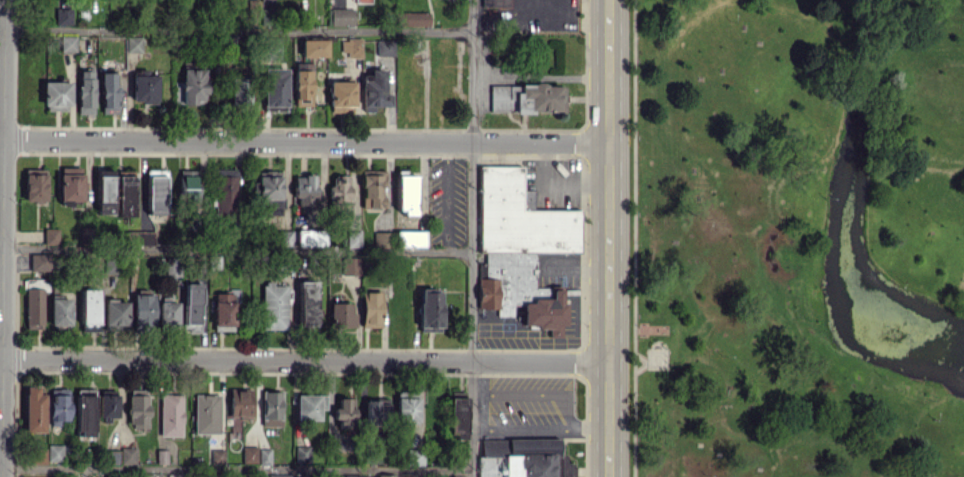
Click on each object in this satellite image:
building: (494, 3)
building: (62, 16)
building: (340, 16)
building: (414, 19)
road: (234, 30)
building: (67, 43)
building: (133, 44)
building: (351, 47)
building: (385, 47)
building: (313, 48)
building: (302, 84)
building: (190, 87)
building: (274, 87)
building: (144, 88)
building: (85, 91)
building: (238, 91)
building: (108, 93)
building: (56, 95)
building: (341, 96)
building: (525, 97)
road: (1, 140)
road: (306, 141)
building: (187, 183)
building: (34, 185)
building: (69, 185)
building: (371, 188)
building: (269, 190)
building: (304, 190)
building: (104, 191)
building: (226, 191)
building: (339, 191)
building: (155, 192)
building: (406, 194)
building: (124, 195)
building: (50, 236)
building: (139, 237)
building: (309, 237)
road: (3, 238)
building: (287, 238)
building: (353, 238)
building: (408, 238)
road: (470, 238)
road: (608, 238)
park: (796, 238)
building: (380, 239)
building: (519, 248)
road: (235, 250)
building: (39, 261)
building: (350, 265)
building: (306, 302)
building: (191, 303)
building: (273, 306)
building: (89, 307)
building: (33, 308)
building: (223, 309)
building: (429, 309)
building: (60, 310)
building: (142, 310)
building: (115, 312)
building: (167, 312)
building: (340, 314)
road: (1, 358)
flagpole: (667, 358)
road: (305, 359)
flagpole: (666, 361)
flagpole: (666, 364)
building: (58, 406)
building: (309, 406)
building: (107, 407)
building: (239, 407)
building: (137, 408)
building: (271, 408)
building: (33, 410)
building: (84, 412)
building: (375, 412)
building: (206, 413)
building: (344, 413)
building: (170, 414)
building: (457, 419)
road: (539, 430)
building: (54, 452)
building: (249, 454)
building: (302, 454)
building: (39, 455)
building: (216, 456)
building: (264, 456)
building: (413, 457)
building: (522, 458)
road: (235, 469)
building: (174, 475)
building: (284, 475)
building: (385, 475)

